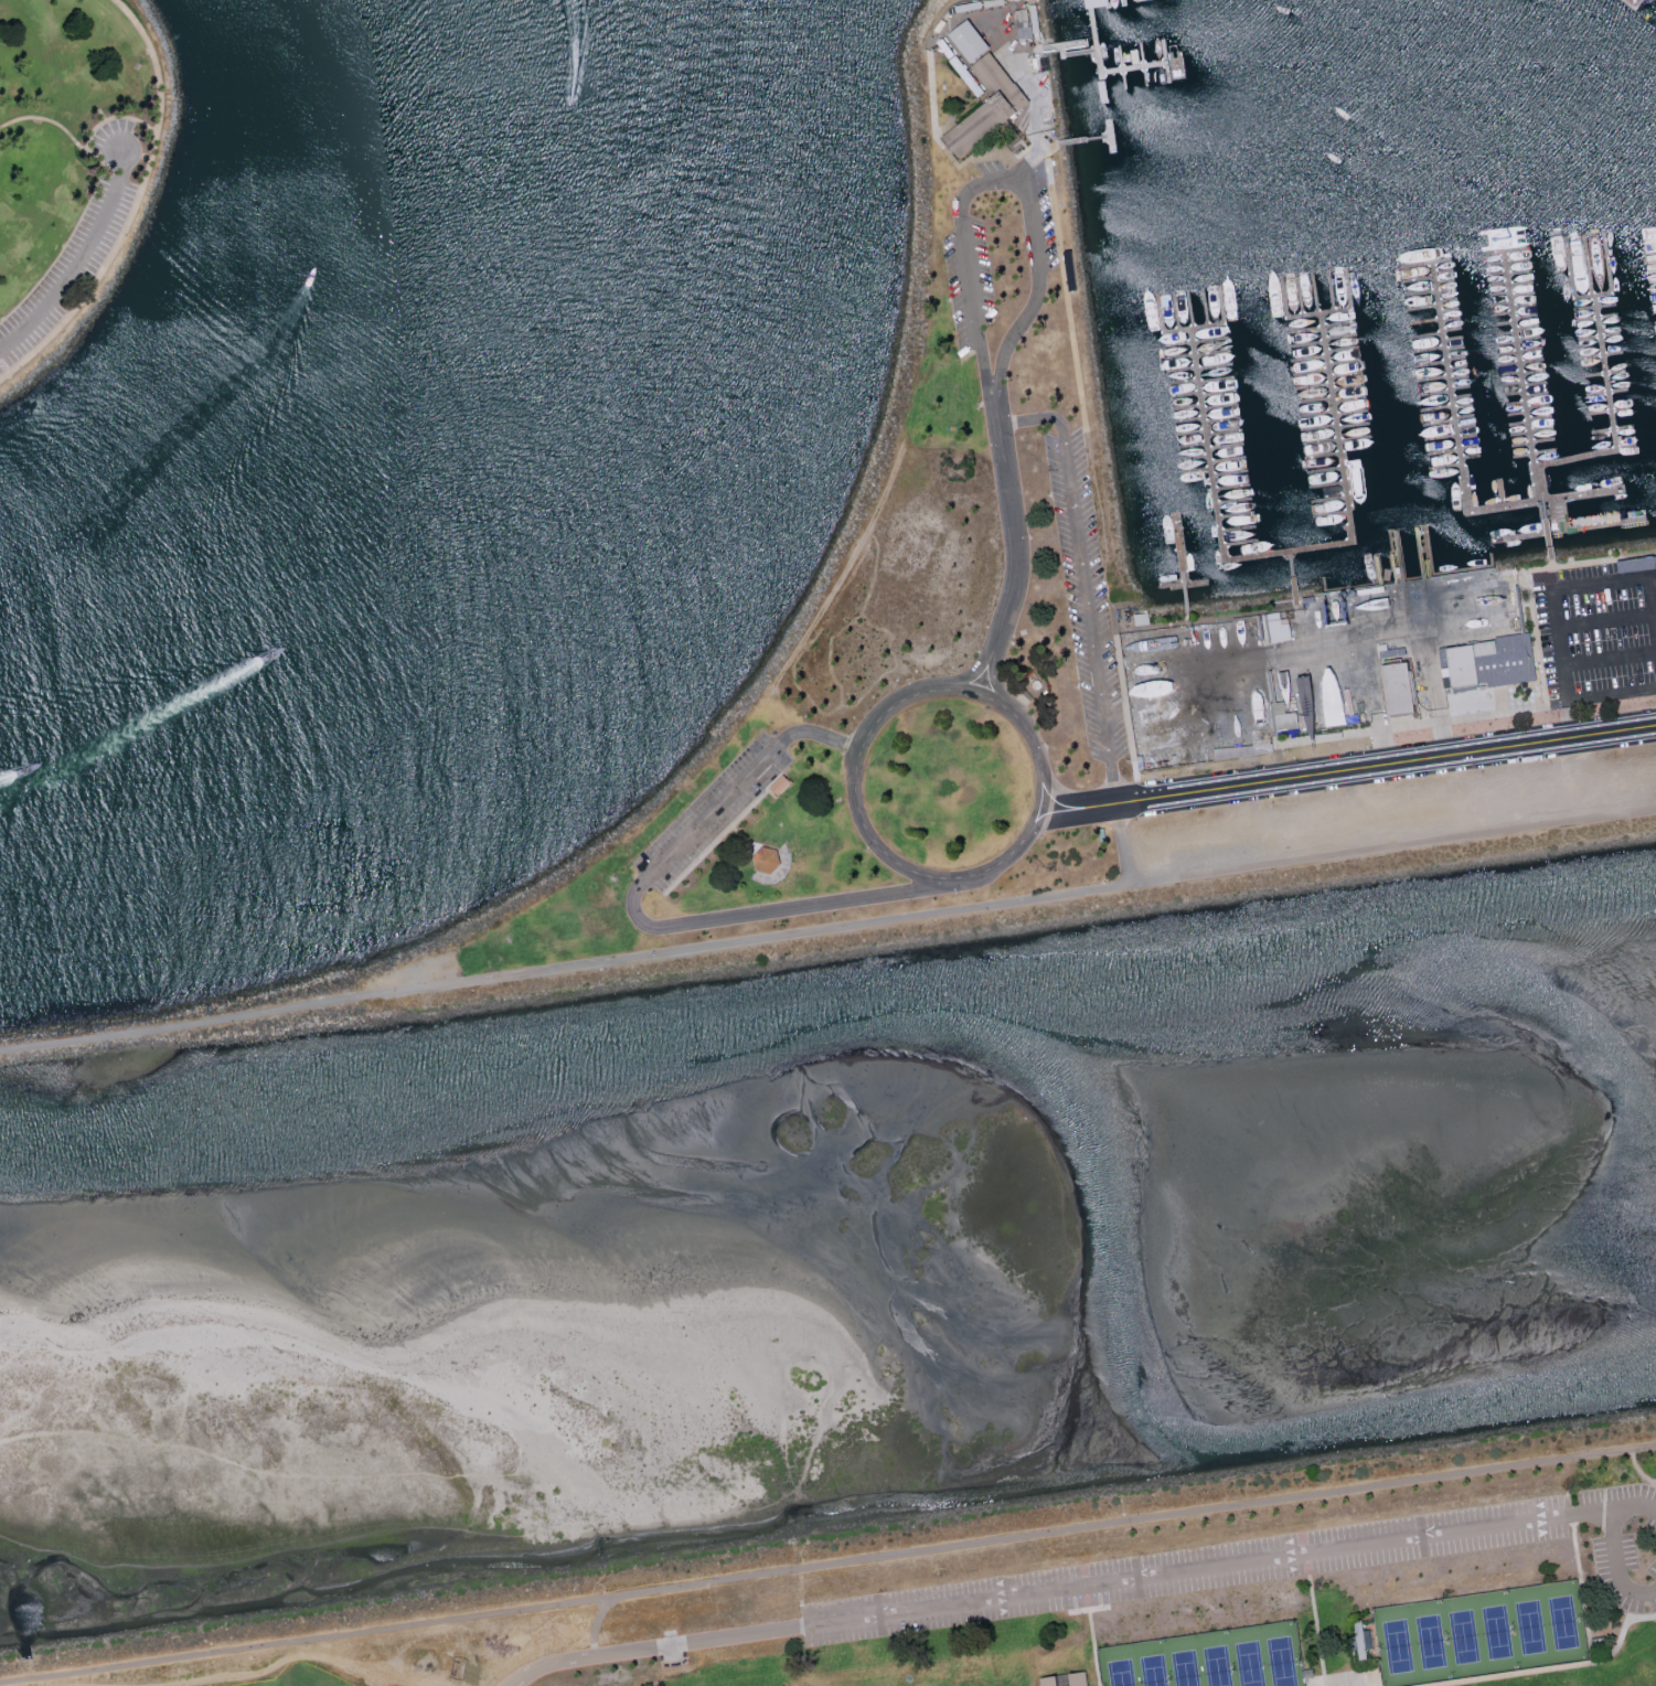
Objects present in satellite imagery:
pier: (1123, 2)
building: (1097, 3)
pier: (1108, 3)
pier: (1604, 4)
pier: (1091, 25)
pier: (1075, 45)
pier: (1142, 54)
pier: (1120, 57)
road: (156, 60)
pier: (1165, 61)
pier: (1099, 70)
pier: (1145, 76)
pier: (1123, 78)
pier: (1102, 86)
building: (980, 89)
pier: (1110, 136)
pier: (1088, 139)
road: (83, 147)
park: (75, 169)
road: (1001, 184)
parking lot: (1037, 216)
parking lot: (78, 250)
road: (82, 262)
road: (104, 271)
parking lot: (958, 291)
pier: (1318, 314)
pier: (1193, 328)
pier: (1521, 375)
pier: (1610, 413)
pier: (1460, 465)
pier: (1547, 525)
road: (1013, 543)
pier: (1283, 552)
road: (1550, 559)
pier: (1293, 572)
road: (1527, 575)
road: (1081, 579)
road: (1562, 584)
parking lot: (1082, 593)
building: (1140, 618)
road: (1603, 619)
building: (1276, 627)
road: (1609, 657)
building: (1488, 662)
building: (1395, 687)
building: (1282, 716)
road: (853, 758)
road: (1574, 759)
road: (1383, 762)
building: (778, 785)
road: (1076, 805)
parking lot: (708, 810)
parking lot: (1391, 810)
road: (1388, 811)
road: (1120, 842)
road: (1391, 845)
building: (765, 860)
road: (640, 919)
road: (563, 965)
parking lot: (412, 973)
river: (827, 1018)
road: (1637, 1469)
road: (1635, 1505)
road: (827, 1564)
parking lot: (1268, 1565)
road: (1614, 1566)
road: (1581, 1589)
road: (1059, 1590)
park: (1115, 1607)
road: (592, 1624)
road: (1316, 1630)
park: (1481, 1634)
building: (1359, 1639)
road: (1093, 1646)
park: (1209, 1660)
road: (1559, 1667)
park: (301, 1676)
building: (1078, 1678)
building: (1048, 1680)

